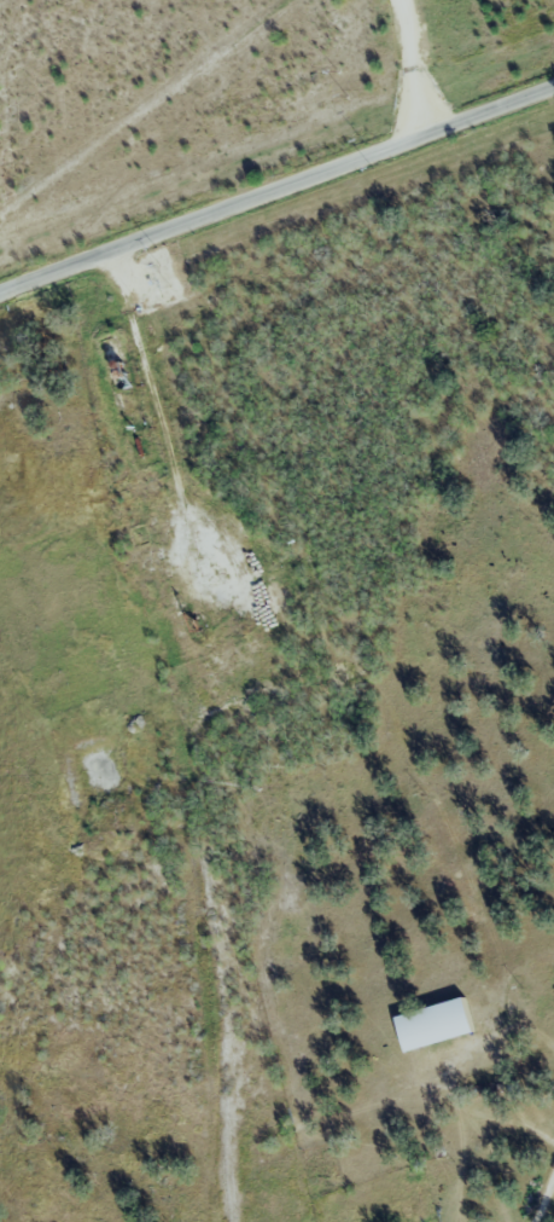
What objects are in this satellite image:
road: (410, 66)
road: (276, 189)
road: (154, 402)
building: (431, 1025)
road: (544, 1195)

